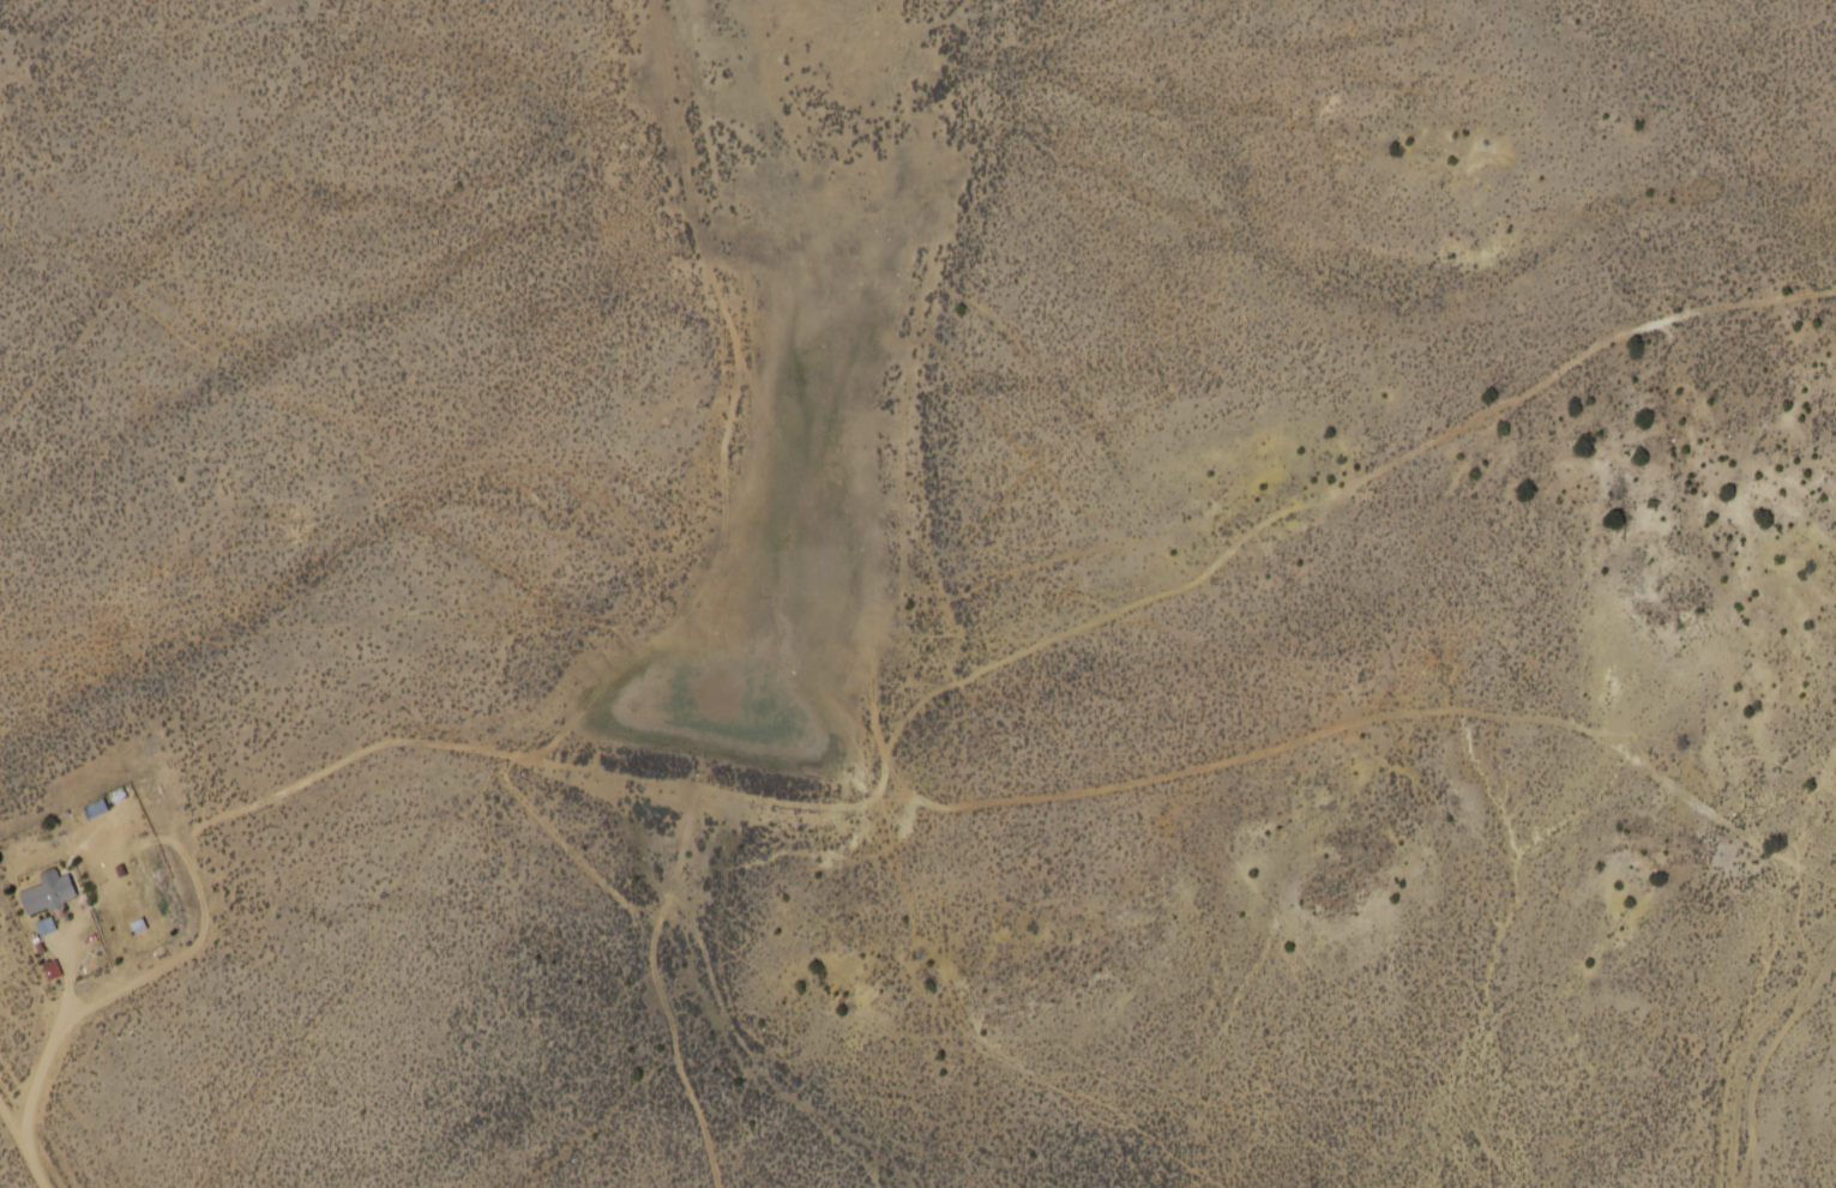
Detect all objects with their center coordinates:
building: (95, 808)
building: (47, 893)
road: (1753, 995)
road: (28, 1141)
road: (13, 1180)

